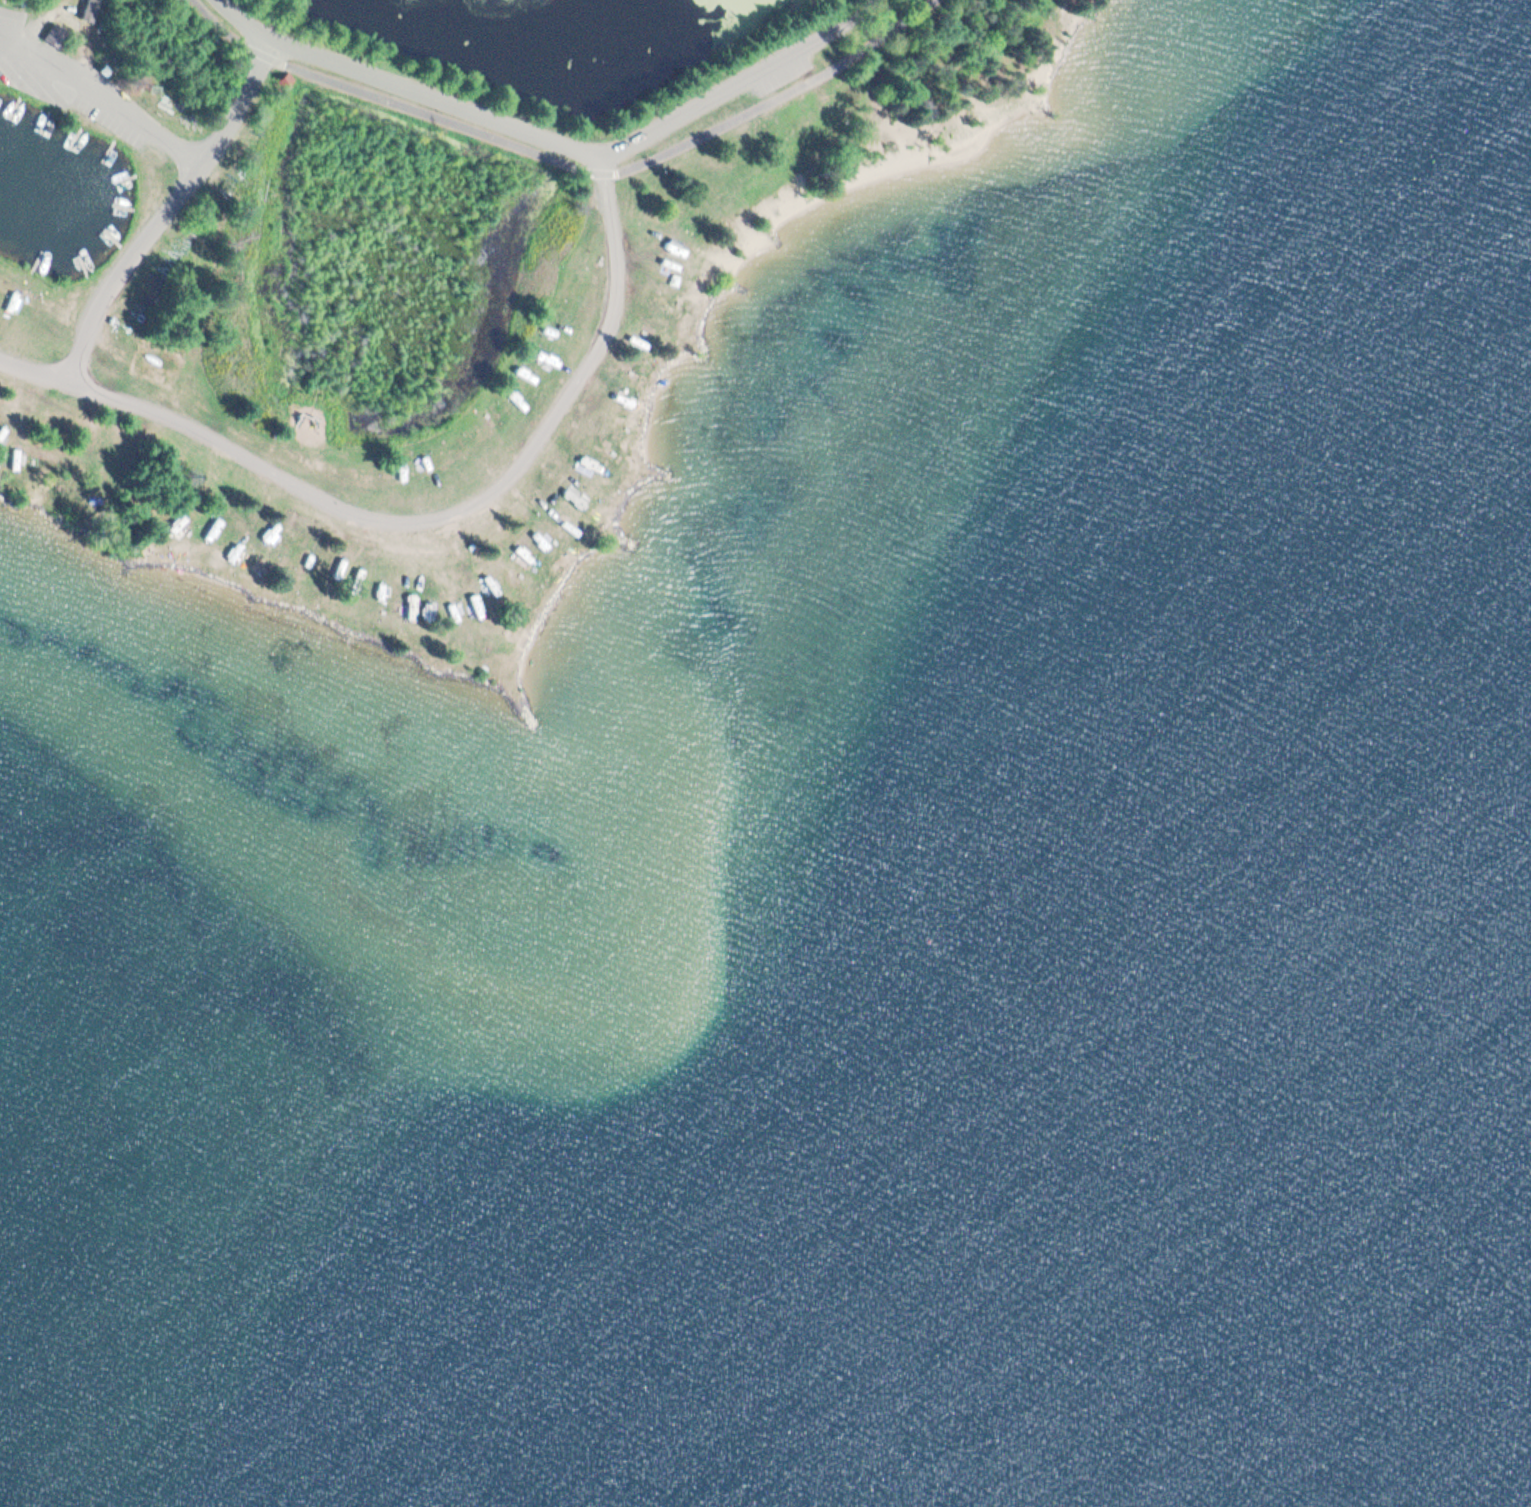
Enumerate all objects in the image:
road: (96, 105)
road: (549, 137)
road: (179, 181)
building: (619, 334)
road: (369, 469)
building: (397, 607)
building: (493, 624)

